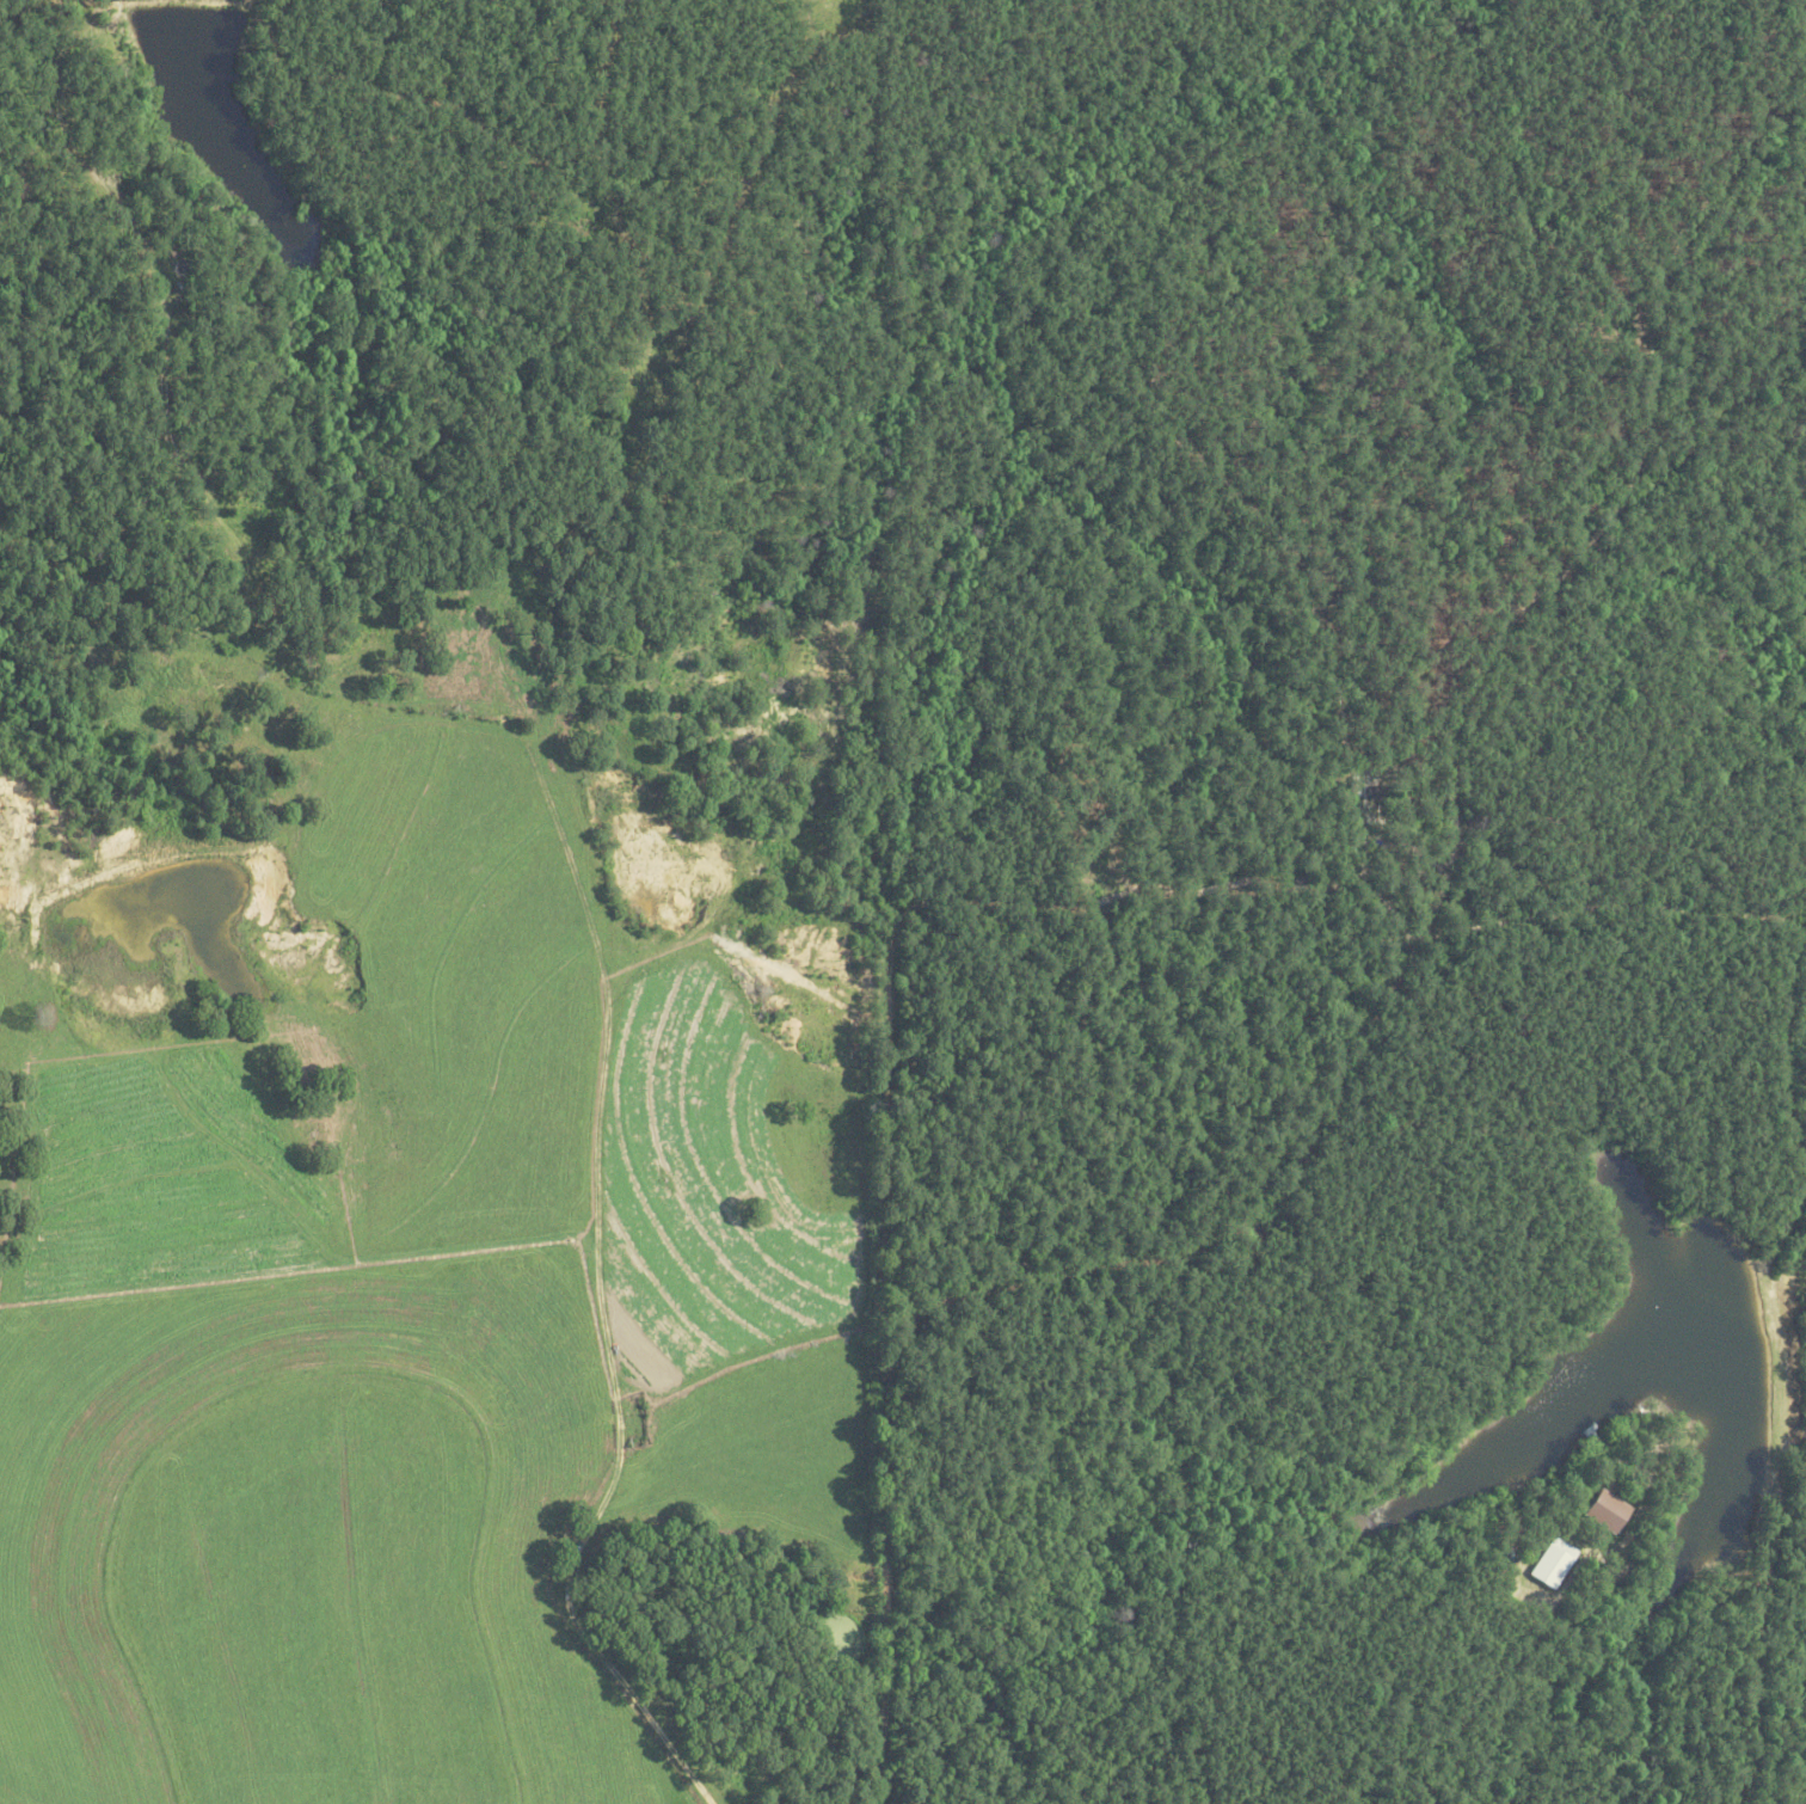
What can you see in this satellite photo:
road: (1378, 1010)
building: (1602, 1510)
building: (1550, 1564)

